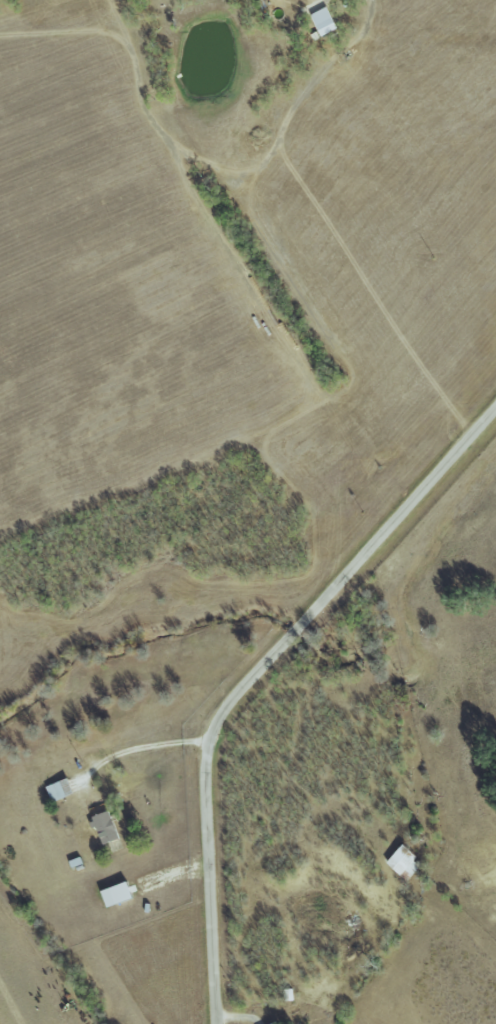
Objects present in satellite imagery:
building: (326, 21)
road: (254, 677)
road: (136, 751)
building: (106, 827)
building: (403, 861)
building: (119, 894)
building: (276, 1023)

